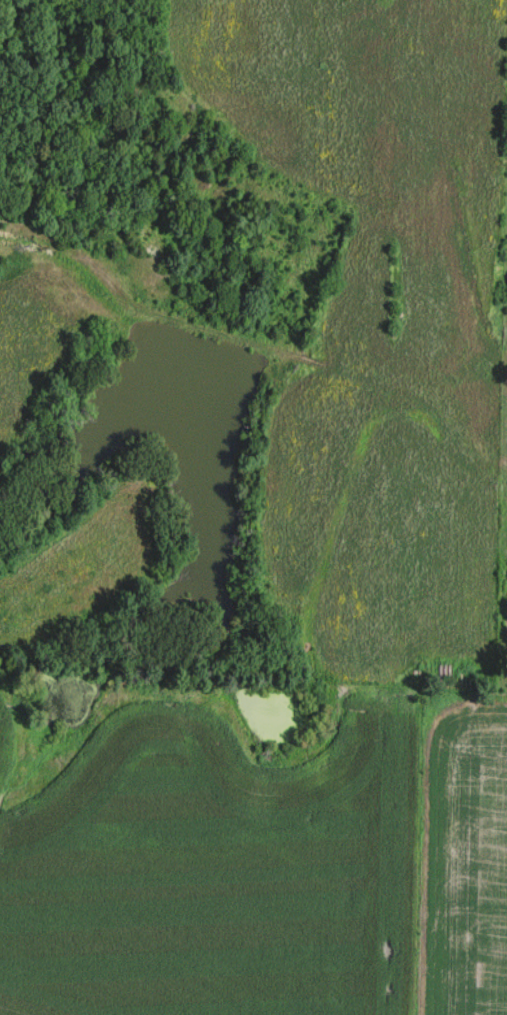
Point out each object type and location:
crop: (206, 846)
crop: (462, 859)

